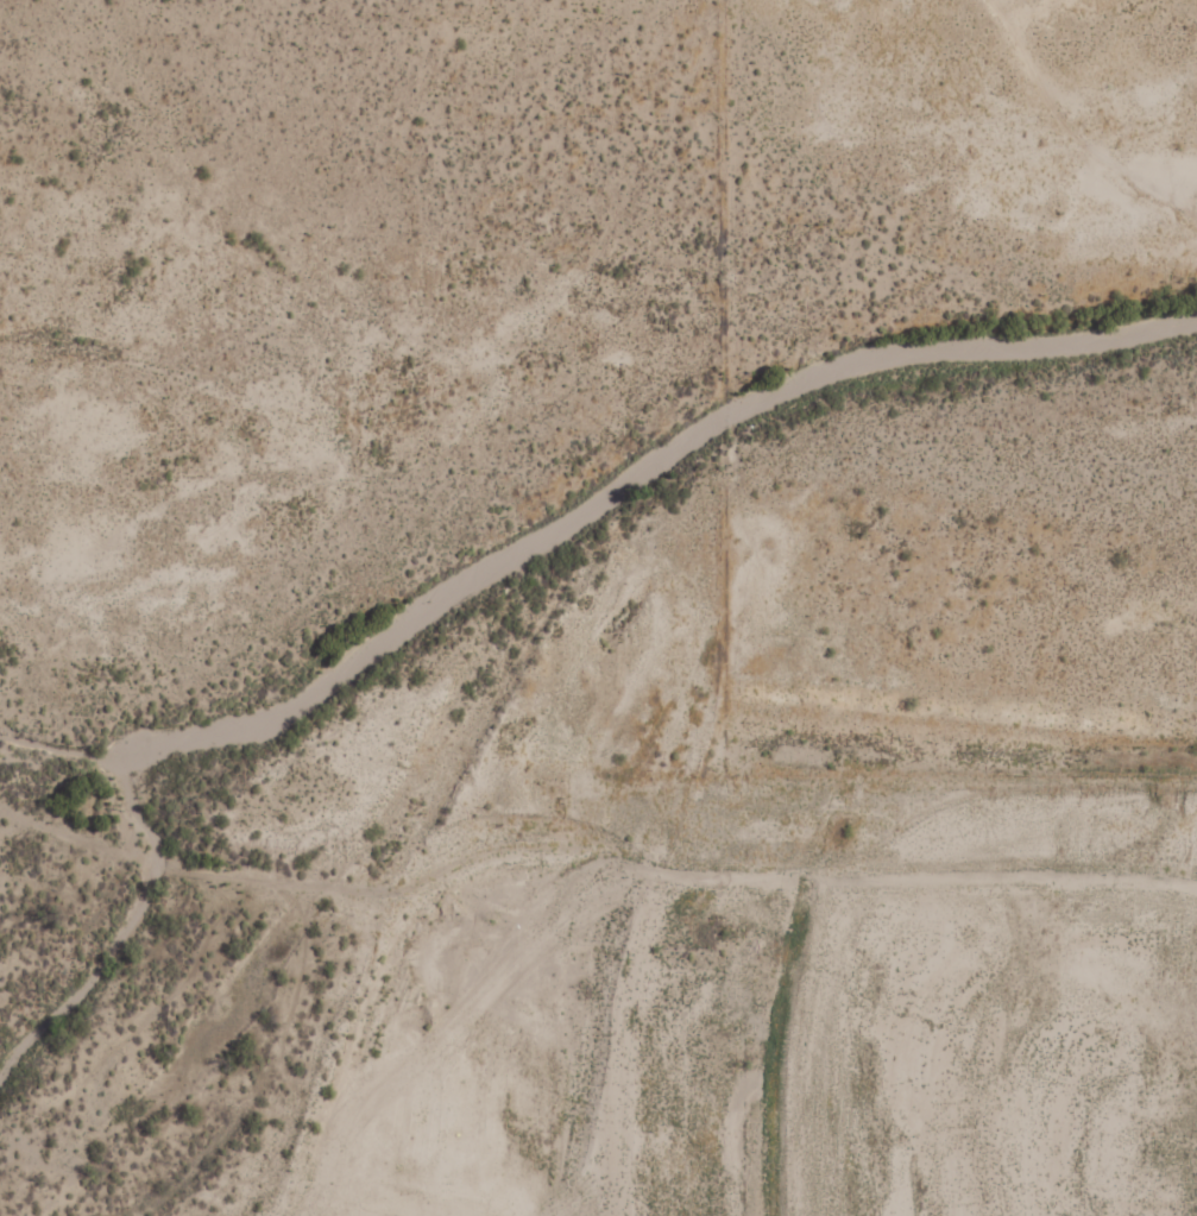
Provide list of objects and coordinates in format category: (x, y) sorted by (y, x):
river: (499, 548)

